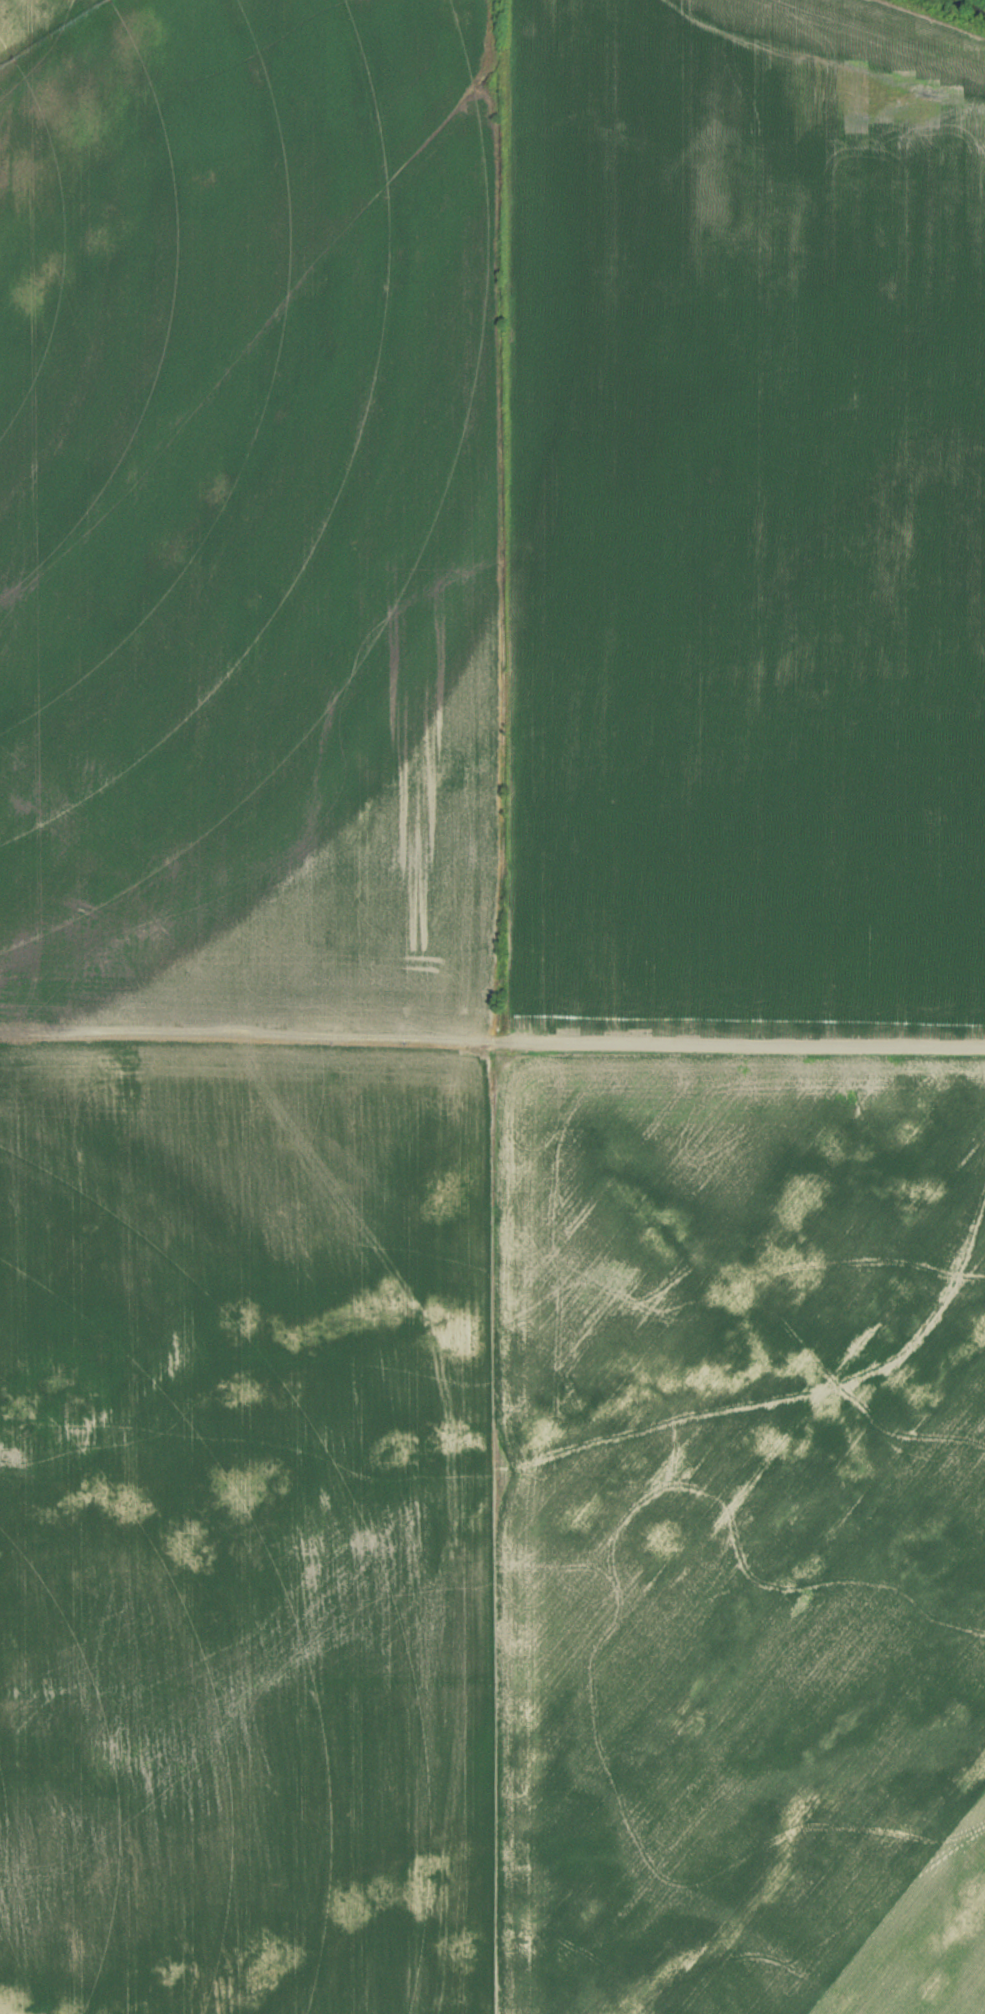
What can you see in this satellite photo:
road: (492, 1038)

